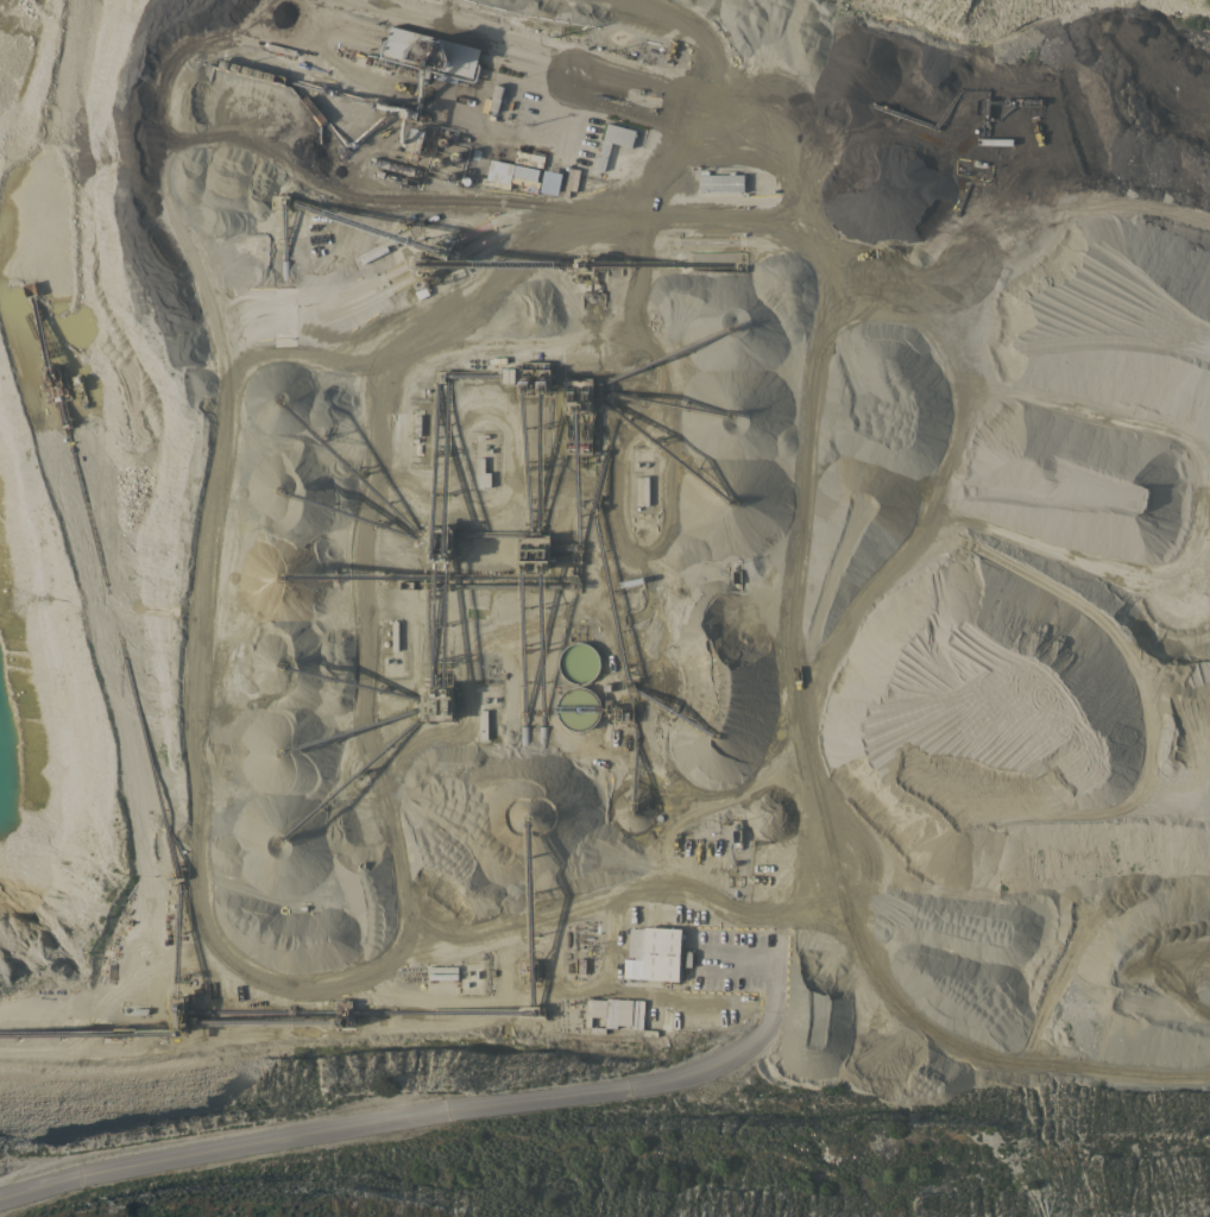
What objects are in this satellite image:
building: (431, 51)
flagpole: (522, 75)
building: (496, 96)
building: (613, 140)
building: (415, 143)
building: (529, 158)
building: (525, 171)
building: (524, 181)
building: (494, 182)
building: (549, 182)
building: (720, 182)
building: (435, 258)
building: (590, 264)
building: (527, 374)
building: (579, 414)
building: (483, 473)
building: (642, 490)
building: (440, 543)
building: (534, 554)
quarry: (607, 604)
building: (578, 662)
building: (436, 699)
building: (578, 707)
building: (616, 710)
building: (655, 953)
building: (442, 969)
building: (442, 976)
building: (615, 1011)
road: (455, 1106)

